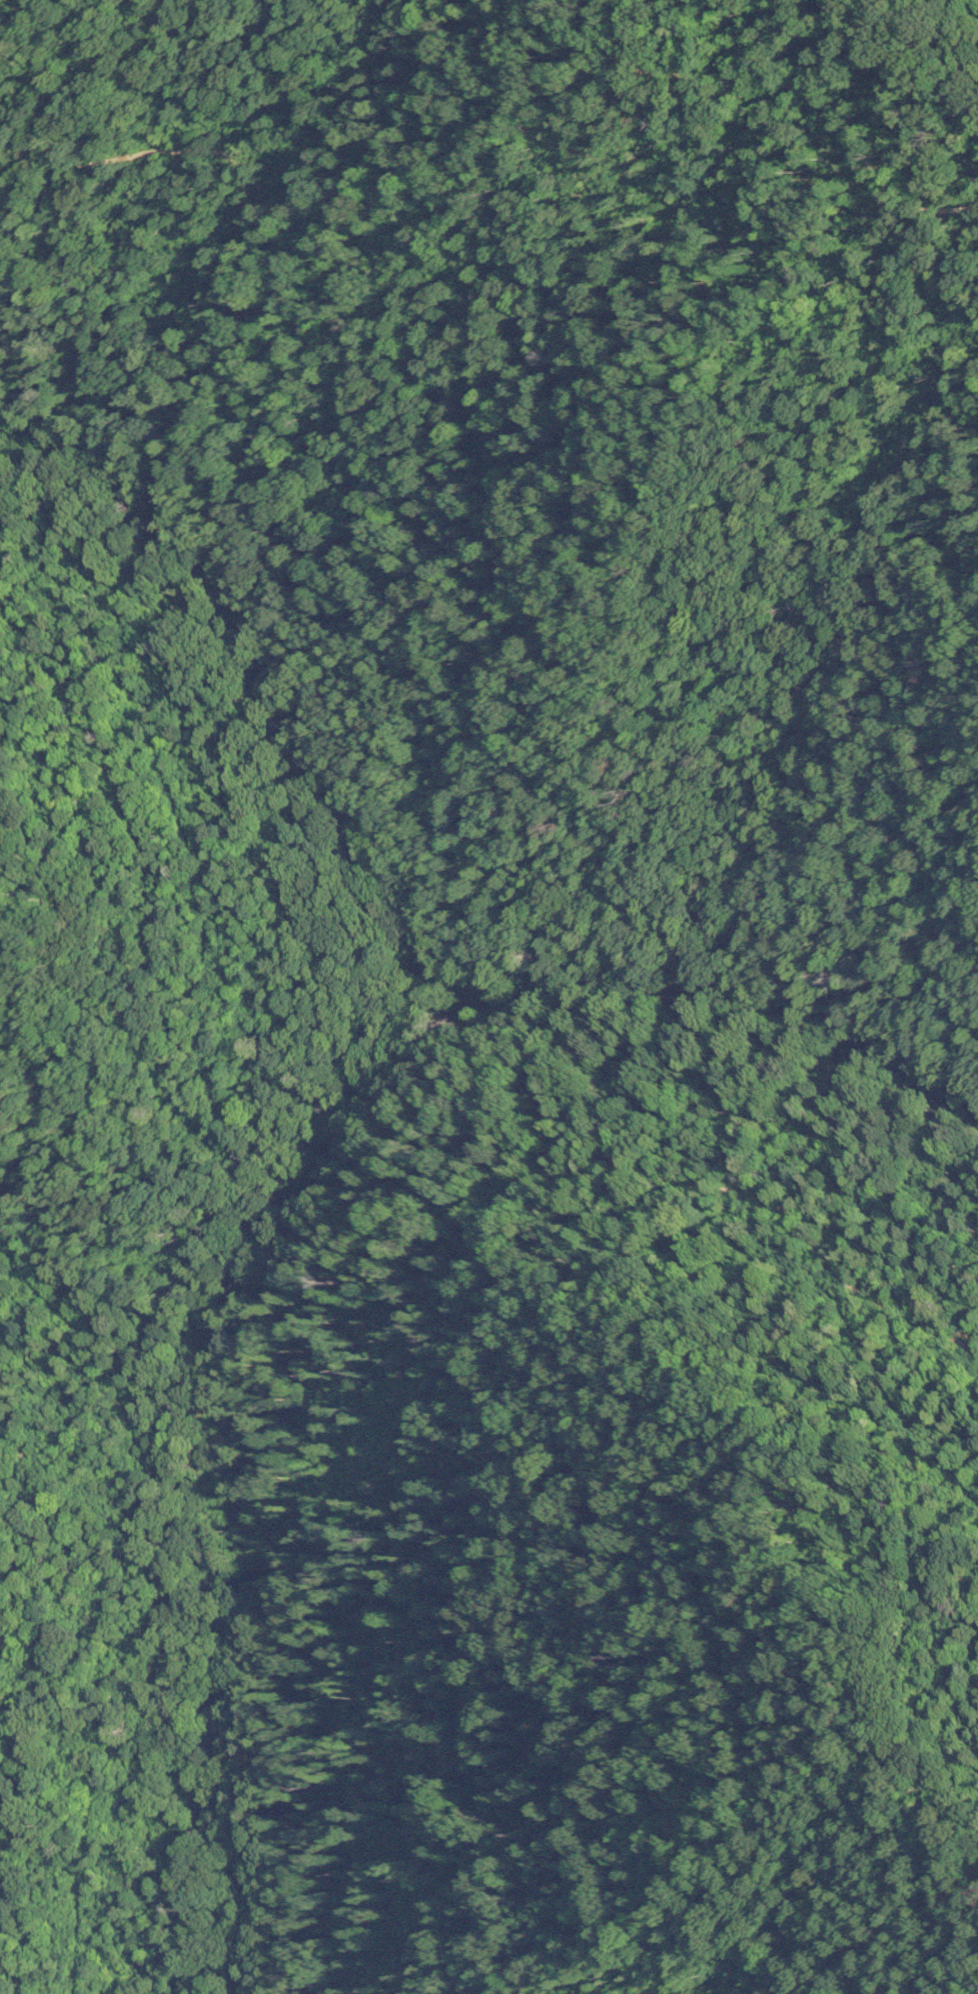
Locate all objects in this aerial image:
road: (797, 90)

